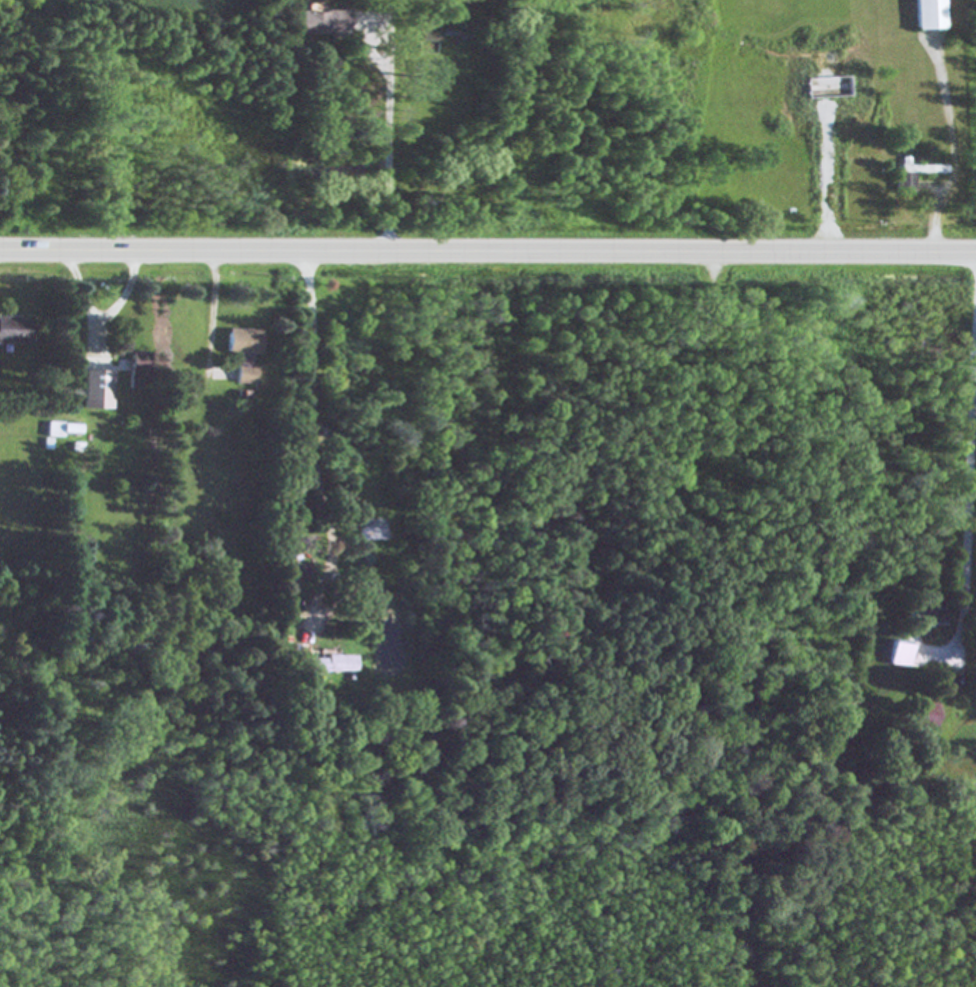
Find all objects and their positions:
building: (929, 14)
building: (322, 23)
building: (428, 37)
building: (828, 88)
road: (956, 149)
road: (391, 157)
building: (905, 183)
road: (487, 248)
road: (214, 304)
road: (104, 314)
building: (15, 330)
building: (242, 353)
building: (138, 371)
building: (96, 390)
building: (61, 430)
road: (313, 431)
road: (970, 511)
building: (300, 571)
building: (923, 617)
building: (293, 650)
building: (899, 654)
building: (334, 666)
building: (923, 716)

